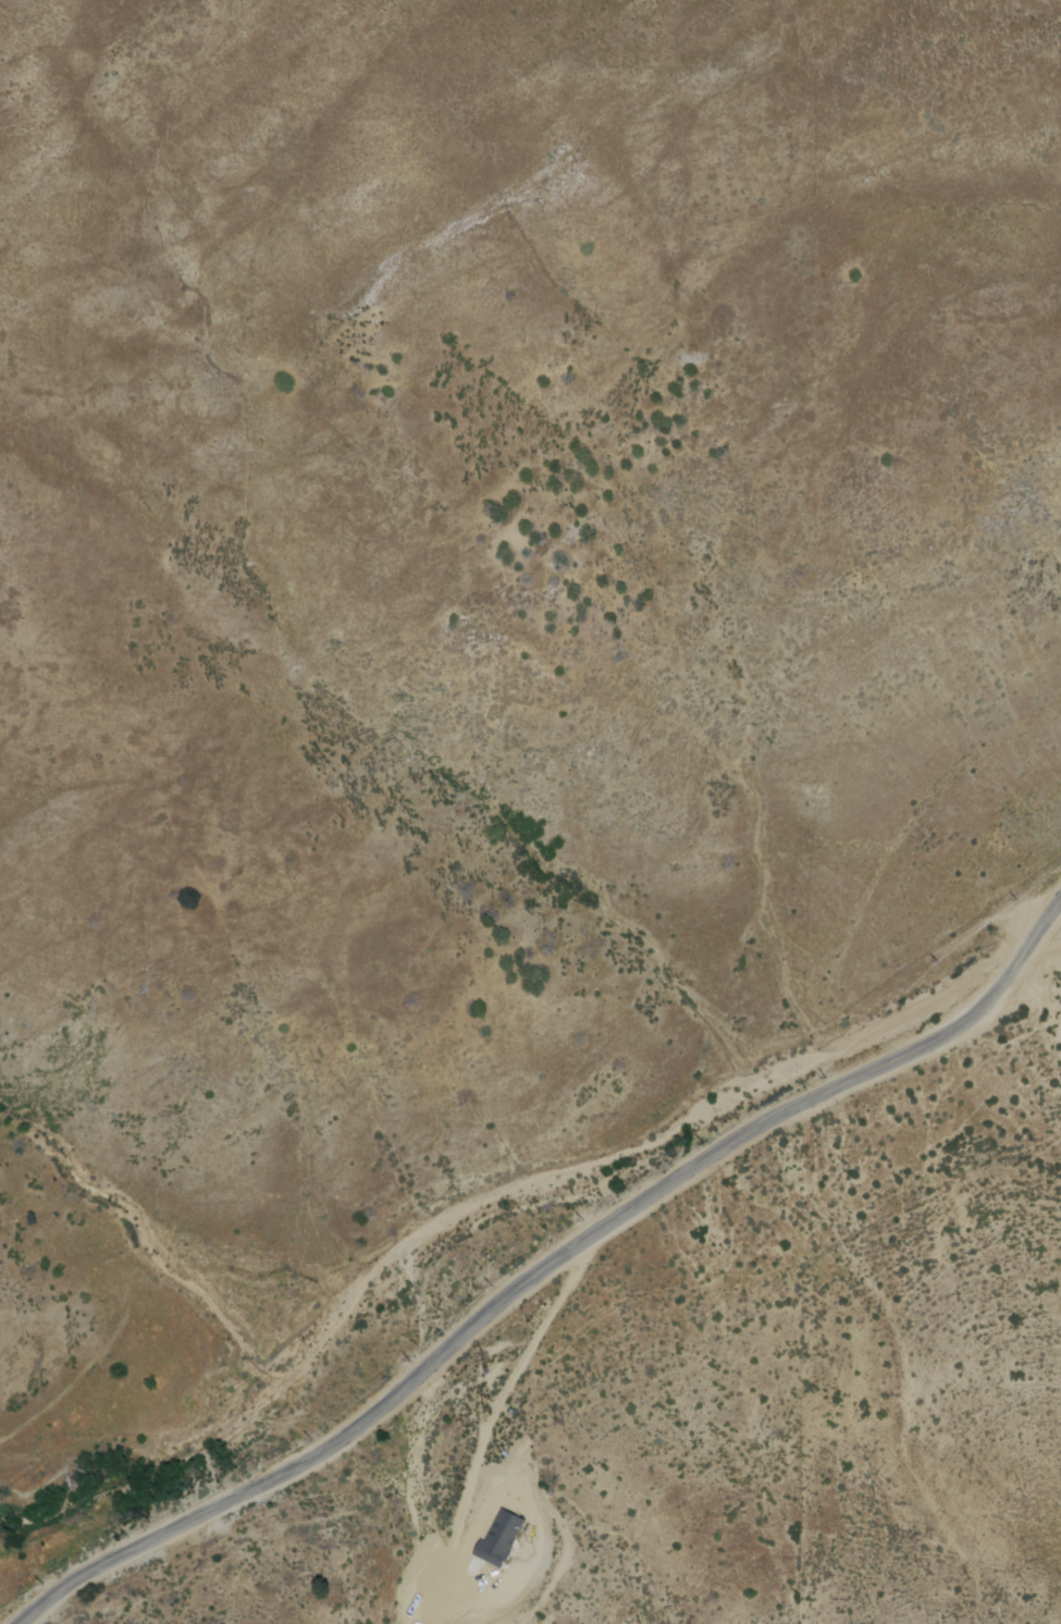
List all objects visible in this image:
road: (1016, 962)
road: (1009, 1044)
road: (485, 1314)
road: (483, 1432)
building: (499, 1536)

